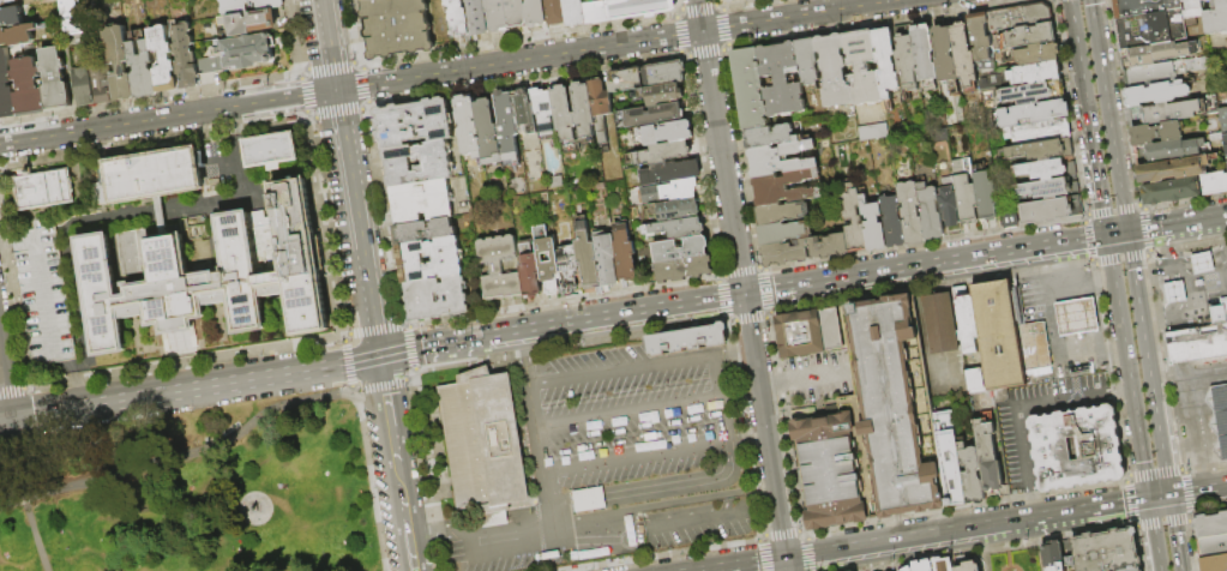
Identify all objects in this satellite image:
building: (6, 1)
road: (716, 1)
building: (727, 1)
road: (739, 2)
road: (718, 4)
building: (246, 5)
road: (675, 5)
road: (696, 6)
building: (1141, 6)
building: (1189, 7)
building: (620, 8)
road: (674, 11)
building: (533, 12)
building: (553, 12)
building: (571, 12)
building: (515, 14)
building: (495, 16)
building: (1015, 16)
building: (11, 17)
building: (68, 17)
building: (475, 18)
building: (1215, 18)
building: (248, 20)
building: (456, 20)
road: (872, 23)
building: (393, 26)
road: (723, 26)
building: (1148, 28)
road: (351, 30)
building: (1024, 34)
road: (295, 35)
road: (675, 35)
building: (18, 36)
building: (980, 37)
road: (517, 38)
road: (327, 44)
road: (614, 46)
road: (724, 47)
building: (19, 50)
building: (1156, 50)
building: (1031, 52)
building: (235, 53)
road: (704, 53)
building: (925, 53)
building: (184, 54)
road: (685, 55)
building: (945, 55)
building: (161, 56)
building: (964, 58)
building: (116, 60)
road: (357, 61)
building: (907, 62)
building: (808, 64)
building: (886, 64)
road: (329, 65)
building: (140, 67)
building: (864, 68)
road: (300, 71)
building: (835, 71)
building: (661, 72)
building: (1029, 72)
building: (1145, 72)
building: (622, 78)
building: (53, 79)
road: (518, 80)
building: (782, 80)
building: (100, 82)
building: (82, 84)
road: (362, 84)
building: (26, 85)
building: (750, 88)
building: (6, 89)
traffic signals: (335, 90)
building: (1028, 91)
building: (660, 92)
building: (1151, 92)
road: (301, 95)
road: (149, 96)
building: (597, 97)
road: (1123, 102)
road: (366, 103)
building: (539, 104)
road: (1066, 107)
building: (522, 110)
building: (581, 110)
building: (1166, 110)
building: (1028, 112)
road: (336, 113)
building: (650, 113)
building: (561, 115)
road: (167, 116)
road: (1107, 116)
road: (307, 118)
building: (1222, 119)
building: (410, 122)
building: (465, 126)
building: (505, 126)
building: (663, 131)
building: (871, 131)
building: (1033, 131)
building: (1156, 131)
building: (486, 132)
building: (771, 137)
road: (152, 139)
building: (1225, 148)
building: (1036, 149)
building: (271, 150)
building: (1163, 150)
building: (661, 152)
road: (741, 157)
building: (781, 160)
road: (698, 162)
building: (415, 163)
building: (1040, 168)
building: (1169, 168)
building: (668, 172)
building: (149, 176)
building: (1211, 181)
building: (1041, 187)
building: (1167, 188)
building: (44, 190)
building: (667, 190)
building: (787, 190)
building: (966, 193)
building: (987, 198)
building: (417, 200)
road: (1185, 200)
road: (1141, 205)
building: (949, 206)
building: (1045, 208)
building: (670, 209)
road: (1113, 209)
building: (912, 212)
building: (931, 212)
building: (783, 214)
road: (1084, 214)
road: (381, 216)
road: (1082, 217)
road: (1215, 218)
building: (1008, 221)
road: (108, 222)
building: (854, 222)
building: (894, 222)
road: (355, 223)
building: (873, 226)
road: (325, 227)
building: (673, 227)
road: (1165, 227)
road: (1144, 229)
building: (421, 230)
road: (1221, 232)
building: (784, 233)
traffic signals: (1127, 233)
road: (1117, 234)
traffic signals: (1106, 236)
road: (17, 241)
road: (1085, 241)
road: (925, 245)
road: (1168, 245)
road: (1186, 245)
building: (678, 247)
building: (805, 251)
building: (622, 252)
building: (297, 253)
road: (1147, 253)
road: (1217, 253)
road: (1226, 253)
road: (1130, 256)
building: (585, 257)
building: (603, 257)
road: (1198, 257)
building: (427, 258)
building: (546, 258)
road: (958, 260)
road: (1119, 260)
road: (1042, 262)
road: (1090, 262)
building: (1201, 263)
road: (1219, 263)
building: (566, 264)
road: (1160, 264)
building: (498, 266)
building: (251, 268)
building: (681, 268)
road: (762, 268)
road: (1201, 268)
road: (1186, 270)
building: (528, 271)
road: (739, 271)
road: (1165, 271)
road: (1174, 271)
road: (716, 276)
road: (963, 280)
road: (1079, 282)
building: (1197, 282)
road: (1113, 284)
road: (1184, 284)
road: (741, 285)
building: (144, 287)
road: (1207, 287)
road: (865, 288)
road: (776, 289)
road: (1178, 290)
road: (765, 291)
building: (1173, 291)
gas station: (1173, 291)
road: (1167, 293)
building: (41, 295)
traffic signals: (744, 295)
building: (433, 296)
road: (1047, 296)
road: (44, 297)
road: (720, 299)
road: (560, 300)
road: (1178, 303)
road: (1172, 305)
road: (804, 307)
road: (1175, 311)
road: (768, 312)
road: (11, 313)
road: (1165, 313)
building: (1219, 313)
road: (768, 314)
building: (1073, 315)
gas station: (1073, 315)
road: (603, 317)
road: (765, 317)
road: (748, 318)
building: (963, 318)
road: (727, 319)
building: (938, 321)
road: (403, 323)
building: (829, 327)
road: (372, 329)
building: (798, 332)
building: (994, 332)
road: (841, 333)
road: (342, 335)
road: (616, 337)
building: (685, 339)
building: (1196, 343)
road: (1073, 344)
building: (1030, 345)
road: (409, 347)
road: (421, 347)
road: (732, 353)
traffic signals: (378, 356)
parking lot: (587, 360)
road: (182, 361)
road: (1165, 361)
road: (345, 363)
road: (498, 365)
road: (828, 365)
road: (1108, 368)
road: (379, 371)
road: (620, 371)
road: (368, 373)
road: (817, 374)
road: (410, 375)
road: (1190, 379)
road: (392, 381)
road: (771, 381)
road: (4, 387)
road: (369, 387)
road: (1118, 387)
road: (10, 389)
road: (188, 390)
parking lot: (622, 391)
road: (515, 393)
road: (814, 396)
road: (720, 399)
building: (892, 403)
road: (1018, 403)
road: (807, 404)
road: (627, 413)
road: (1175, 416)
traffic signals: (10, 419)
building: (1219, 419)
road: (782, 425)
road: (1157, 425)
road: (742, 427)
parking lot: (631, 434)
road: (536, 435)
road: (746, 439)
building: (481, 444)
building: (1073, 447)
road: (1180, 449)
parking lot: (1015, 452)
road: (1199, 452)
building: (986, 455)
road: (634, 457)
road: (184, 458)
road: (1204, 465)
building: (830, 467)
building: (949, 467)
road: (1183, 469)
parking lot: (636, 470)
road: (1154, 471)
road: (423, 474)
building: (969, 474)
road: (1126, 475)
road: (368, 477)
road: (396, 477)
road: (1124, 479)
road: (682, 487)
park: (194, 492)
road: (1186, 492)
road: (1187, 493)
traffic signals: (1169, 498)
building: (587, 499)
traffic signals: (1149, 500)
road: (1127, 501)
road: (587, 503)
road: (662, 503)
road: (1030, 504)
road: (724, 505)
road: (560, 506)
road: (961, 506)
road: (527, 512)
road: (1209, 512)
road: (25, 513)
road: (1069, 513)
road: (729, 516)
road: (1190, 516)
road: (493, 517)
road: (471, 521)
road: (931, 522)
road: (680, 523)
road: (1161, 523)
road: (1133, 524)
road: (433, 525)
building: (1211, 527)
road: (898, 528)
road: (781, 533)
road: (760, 534)
road: (801, 534)
road: (599, 535)
road: (888, 542)
road: (1192, 545)
road: (540, 547)
road: (988, 547)
building: (1213, 547)
road: (1138, 548)
building: (1105, 551)
road: (493, 552)
road: (658, 553)
road: (807, 554)
building: (1049, 555)
road: (760, 557)
road: (452, 558)
traffic signals: (786, 559)
road: (748, 564)
building: (943, 564)
building: (1215, 564)
building: (925, 566)
building: (970, 566)
building: (909, 569)
building: (1132, 570)

